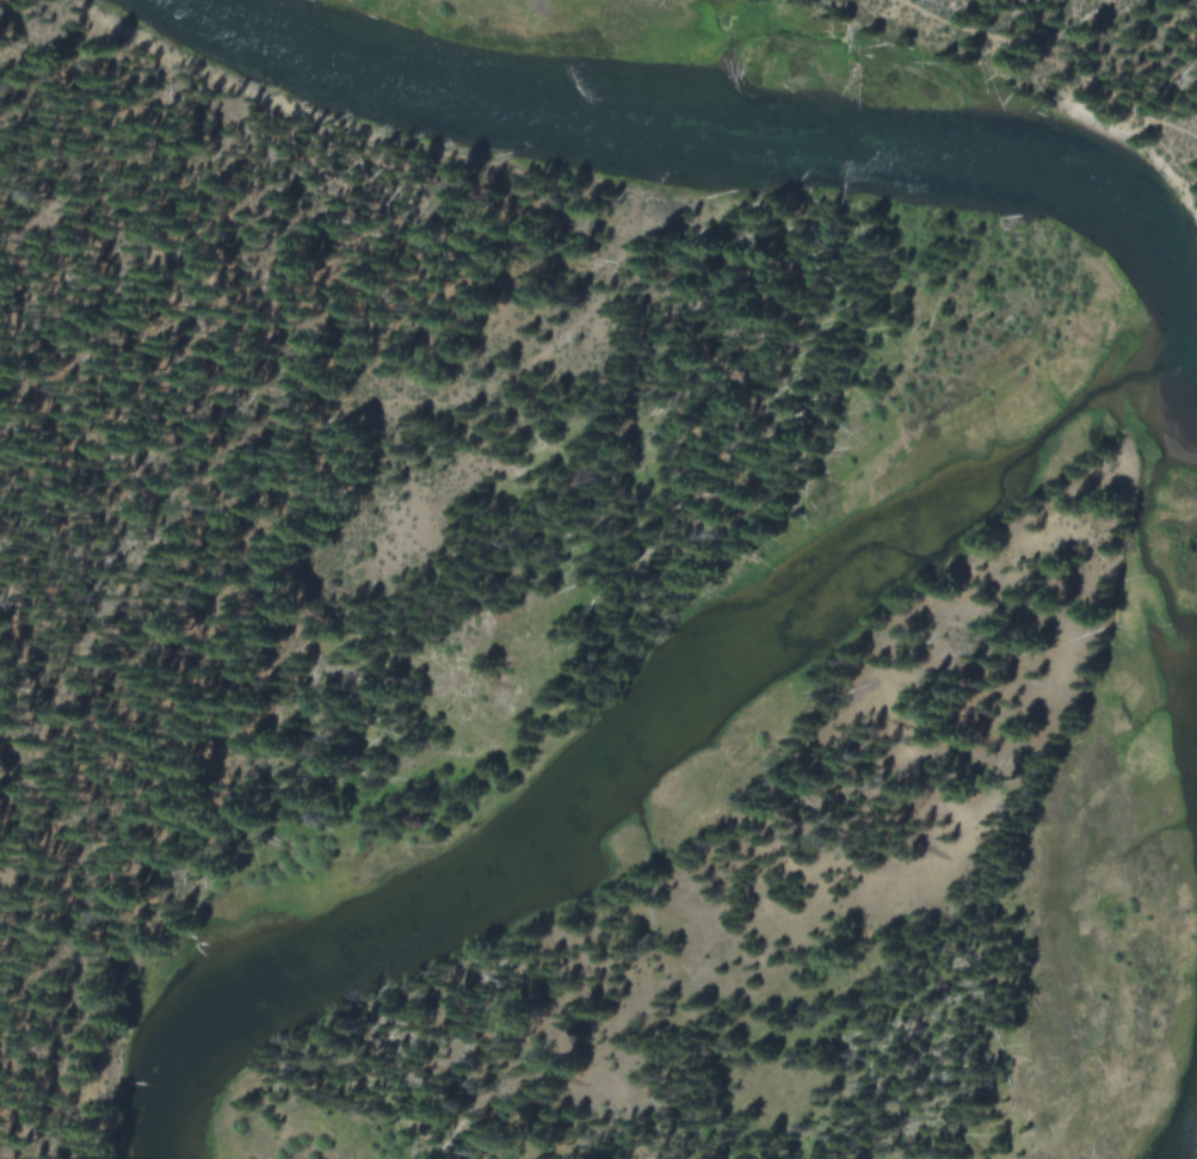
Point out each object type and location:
road: (1054, 62)
river: (738, 137)
river: (1141, 542)
road: (99, 622)
river: (643, 736)
river: (1187, 1145)

